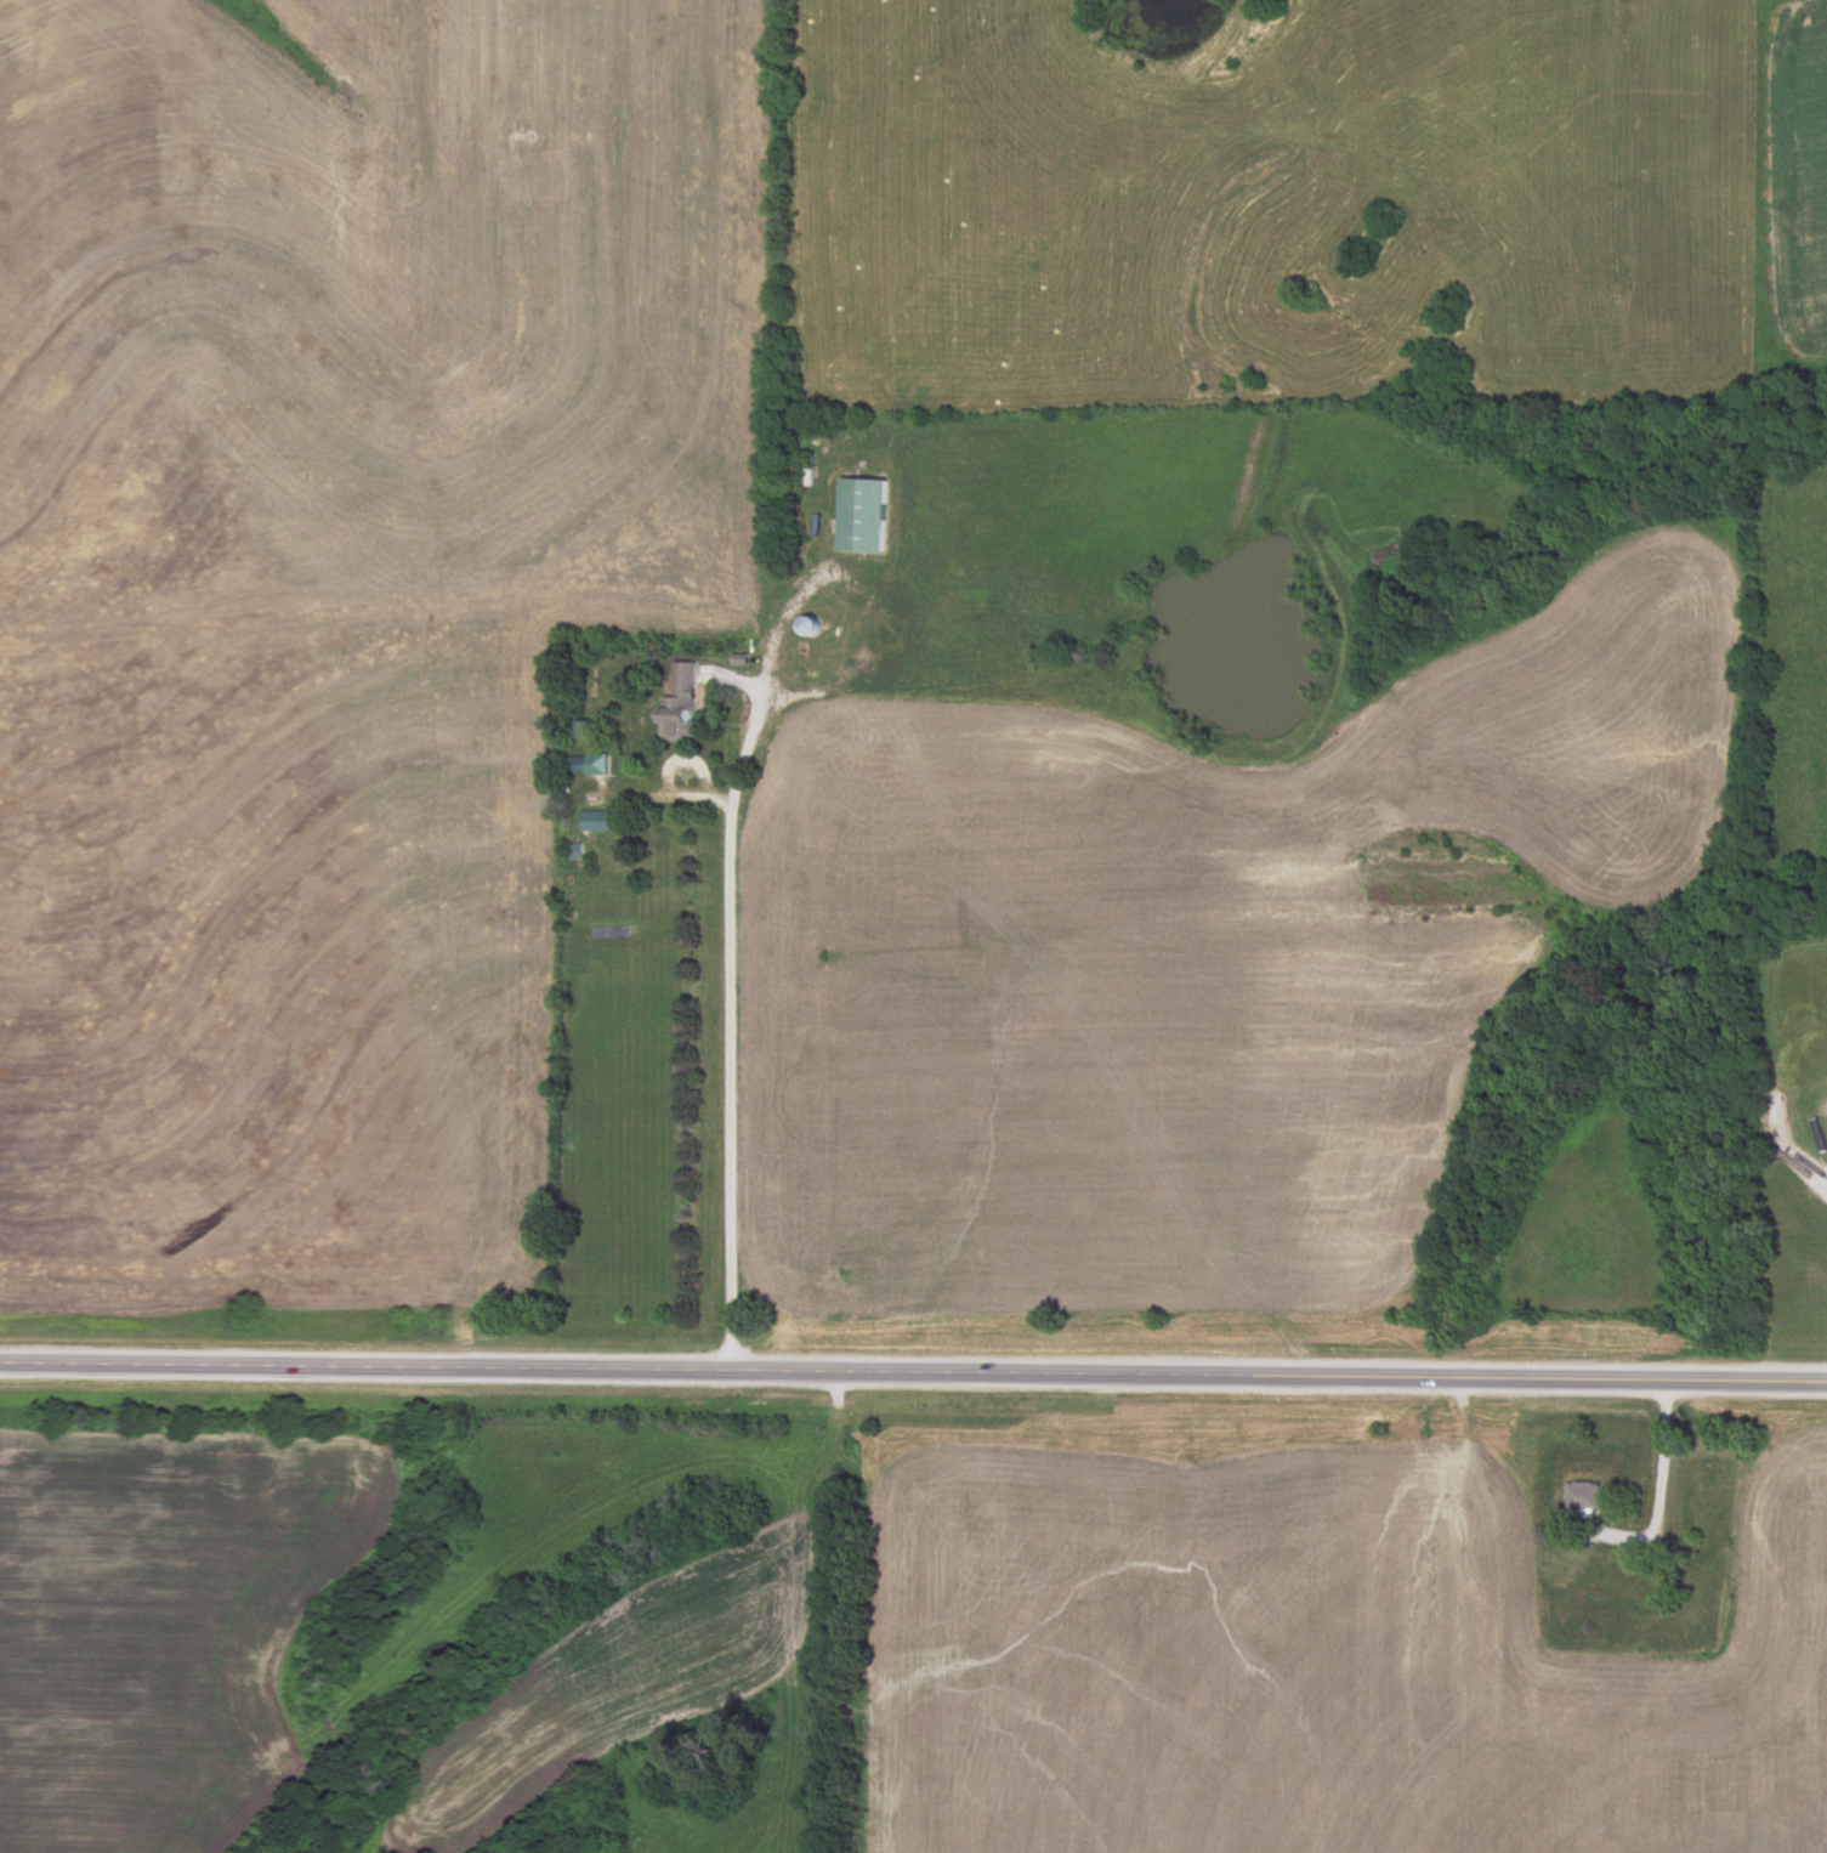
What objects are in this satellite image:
building: (1153, 7)
building: (868, 517)
building: (813, 627)
building: (687, 705)
building: (586, 731)
road: (682, 758)
building: (590, 766)
road: (663, 798)
building: (598, 822)
road: (727, 993)
road: (913, 1368)
road: (1659, 1468)
building: (1584, 1496)
building: (1683, 1520)

